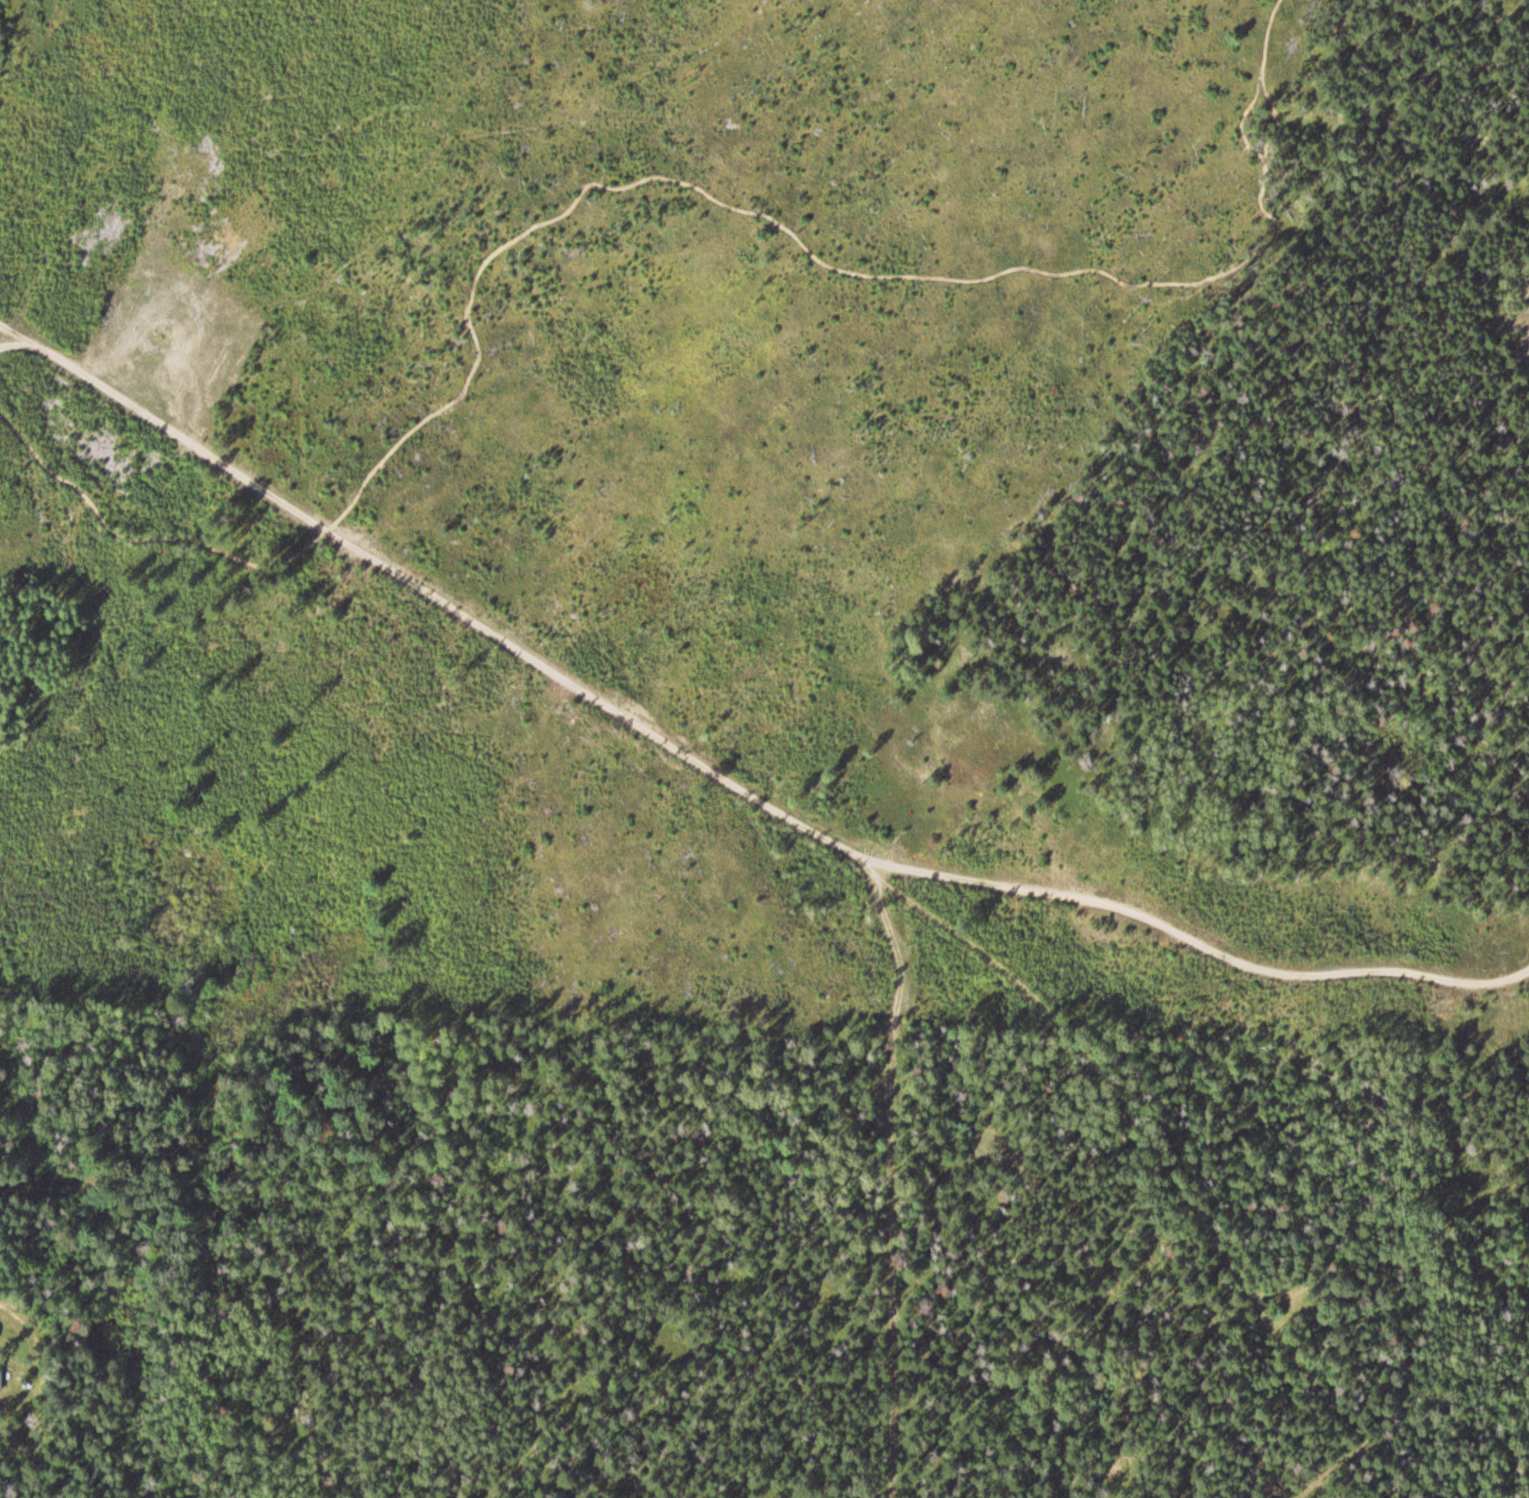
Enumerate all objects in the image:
road: (651, 175)
road: (13, 328)
road: (722, 776)
building: (1, 1380)

